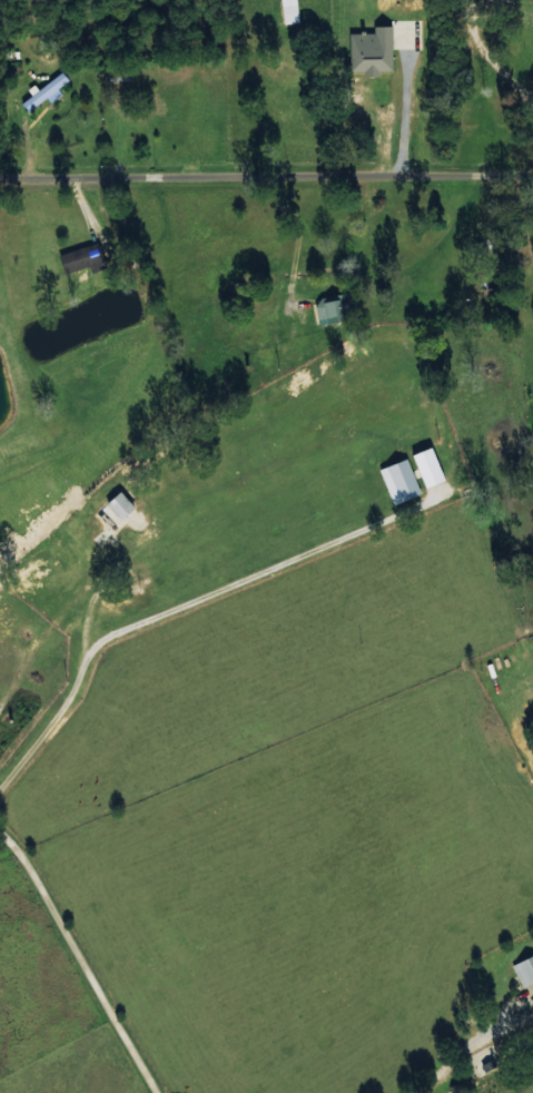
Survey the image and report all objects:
building: (289, 11)
building: (371, 51)
building: (46, 91)
road: (266, 193)
building: (82, 258)
building: (330, 311)
building: (427, 467)
building: (399, 481)
building: (113, 509)
road: (100, 516)
road: (266, 794)
road: (299, 955)
building: (524, 969)

